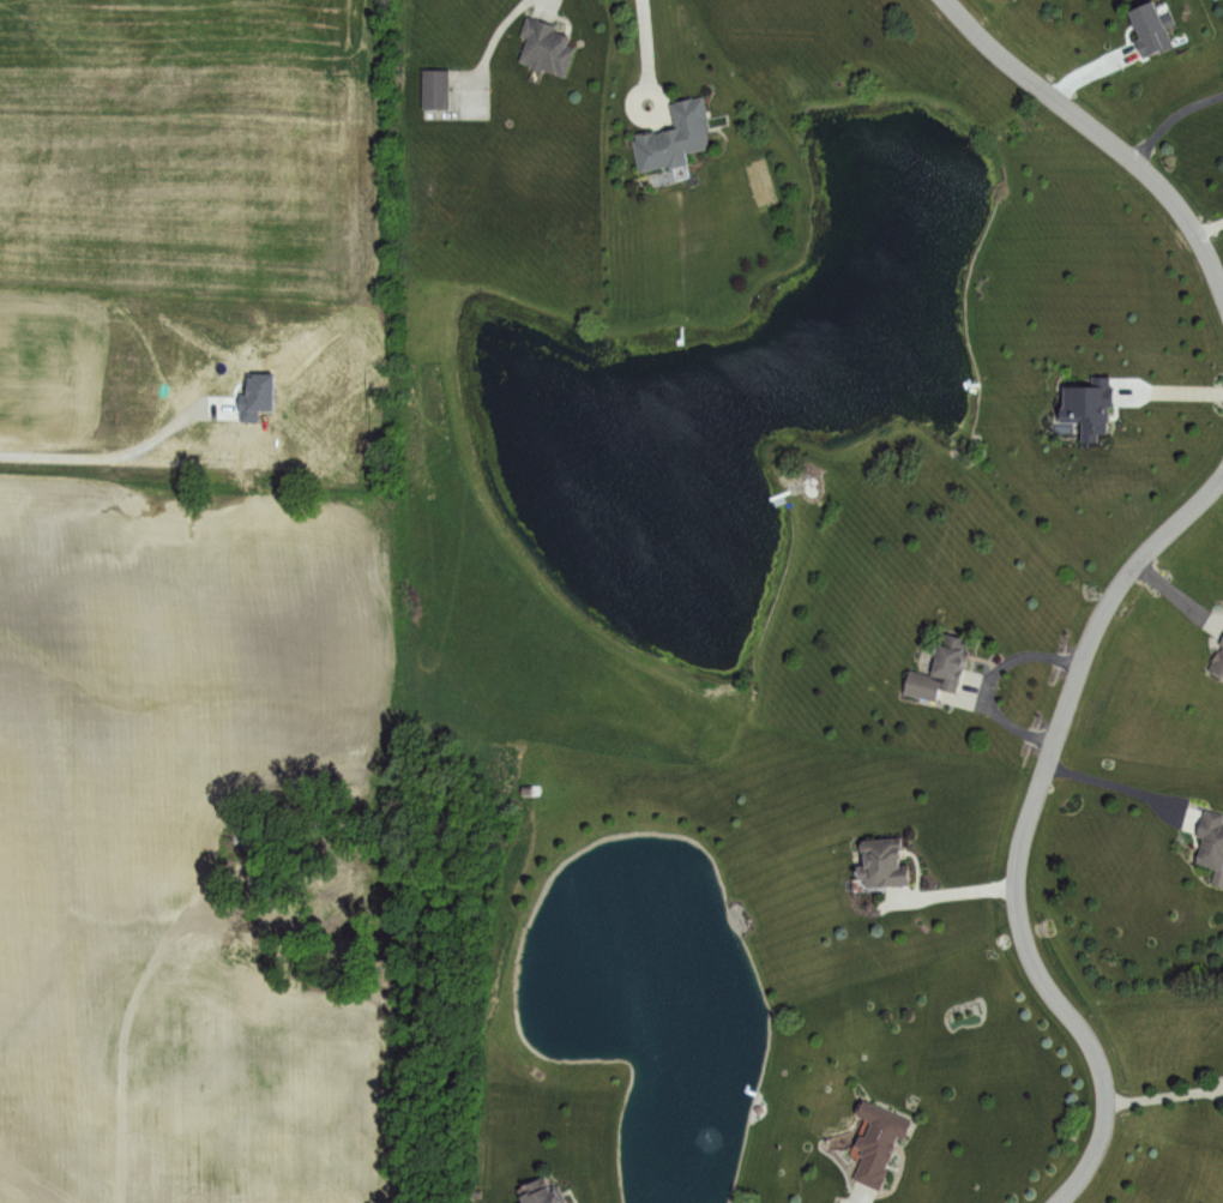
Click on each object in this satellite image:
building: (1149, 29)
road: (492, 37)
building: (546, 48)
road: (647, 48)
building: (433, 89)
road: (1096, 130)
building: (671, 137)
road: (1171, 390)
building: (1092, 407)
road: (116, 455)
building: (1216, 661)
building: (939, 669)
road: (1109, 781)
road: (1024, 830)
building: (1211, 844)
building: (879, 865)
road: (952, 891)
road: (1162, 1094)
building: (876, 1143)
building: (537, 1193)

